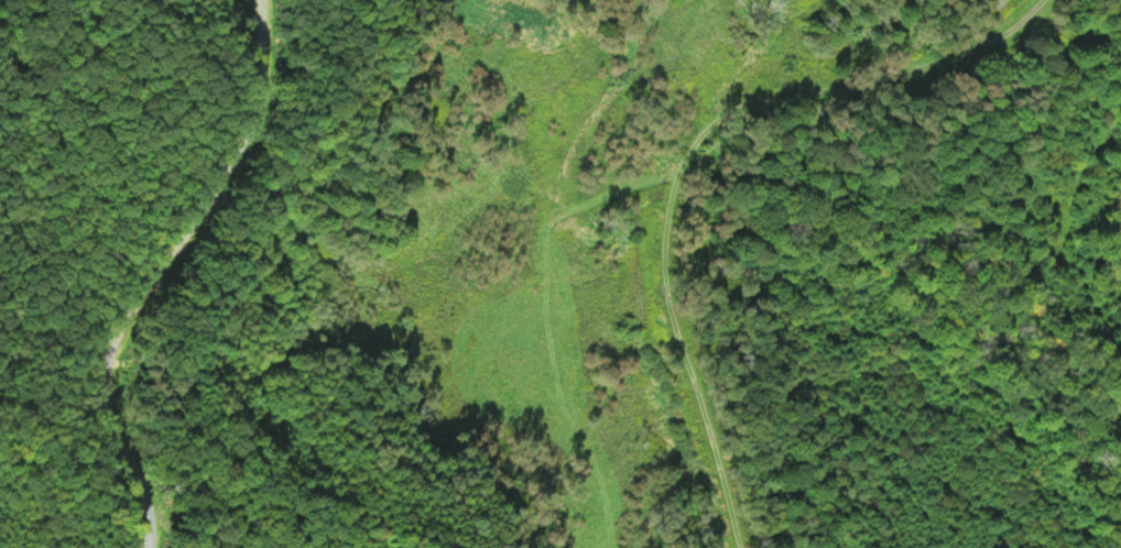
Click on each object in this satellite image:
road: (852, 2)
road: (718, 223)

